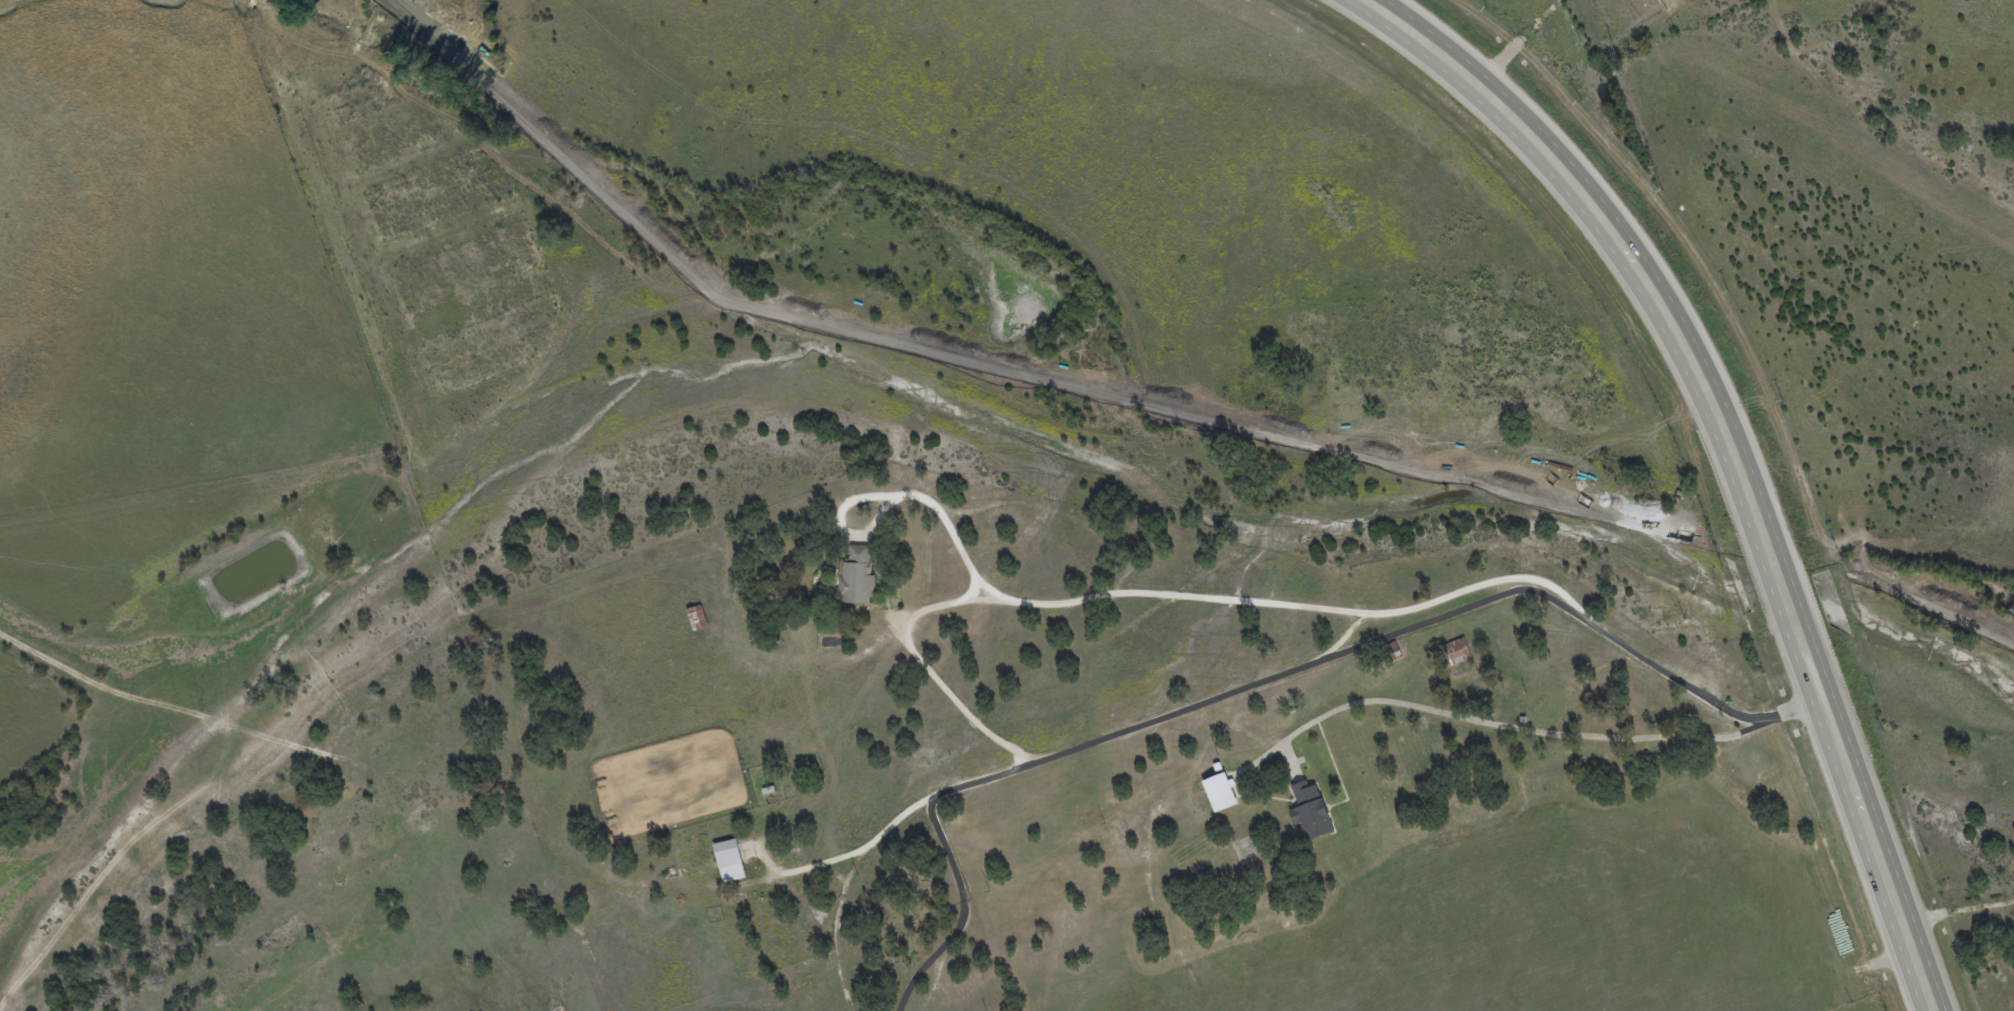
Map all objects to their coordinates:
road: (1995, 16)
road: (1862, 344)
road: (1733, 451)
building: (857, 576)
road: (1449, 594)
road: (1026, 603)
building: (697, 617)
building: (1456, 651)
road: (924, 665)
road: (1271, 677)
road: (1518, 725)
building: (1220, 791)
building: (1310, 810)
road: (849, 853)
building: (729, 859)
road: (1956, 911)

